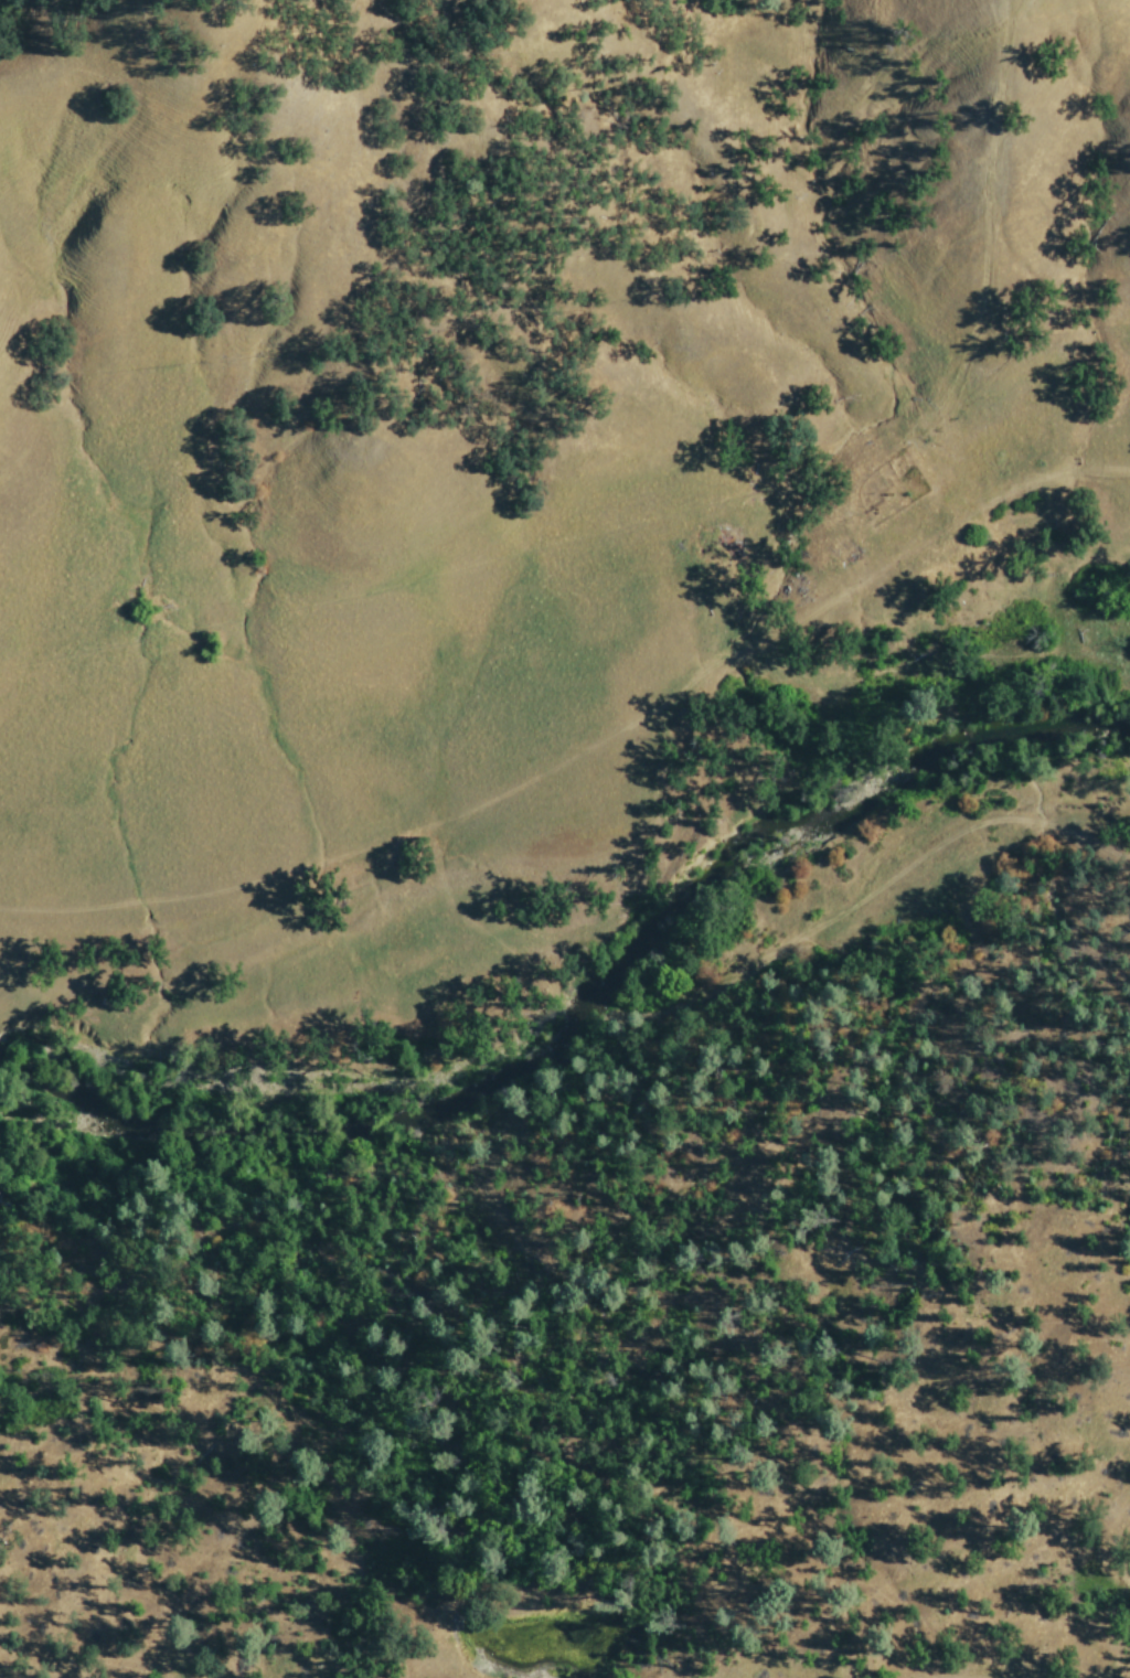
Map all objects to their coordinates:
road: (855, 900)
road: (486, 931)
river: (586, 1006)

